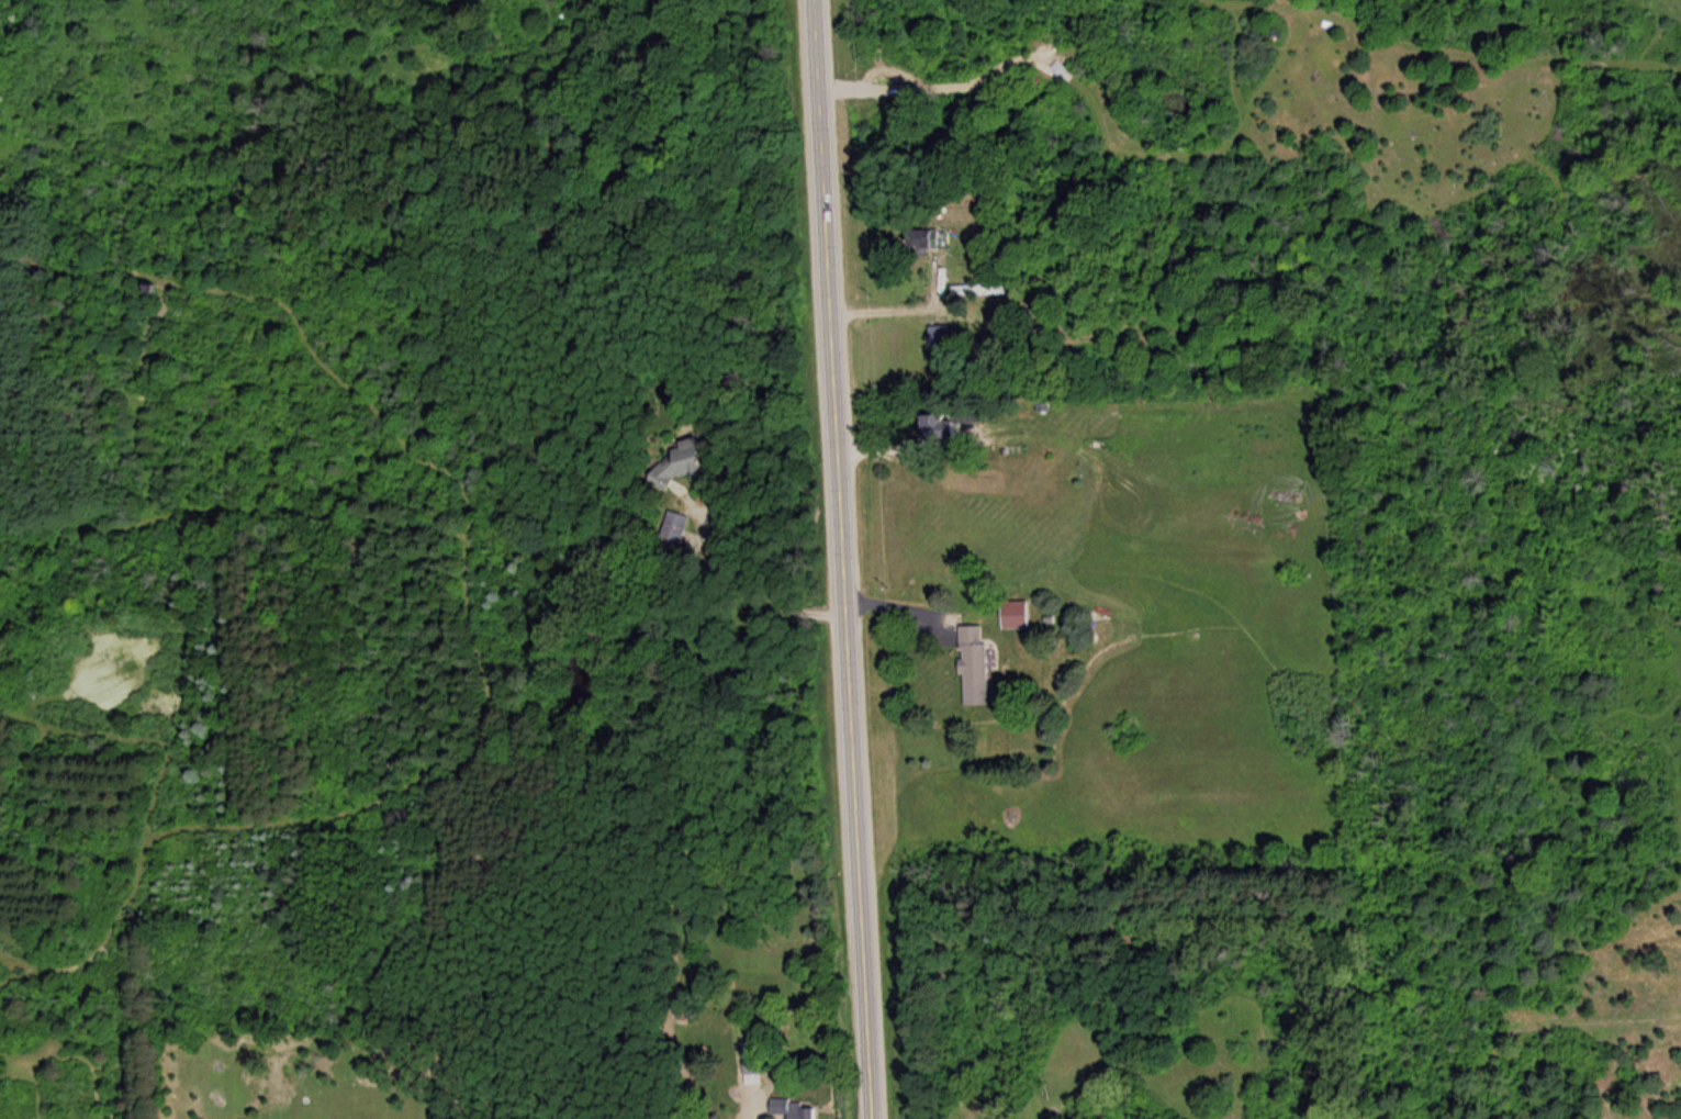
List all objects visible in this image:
building: (929, 239)
building: (982, 291)
building: (940, 337)
building: (948, 427)
building: (686, 467)
building: (679, 527)
road: (844, 559)
building: (978, 665)
building: (758, 1068)
building: (797, 1110)

